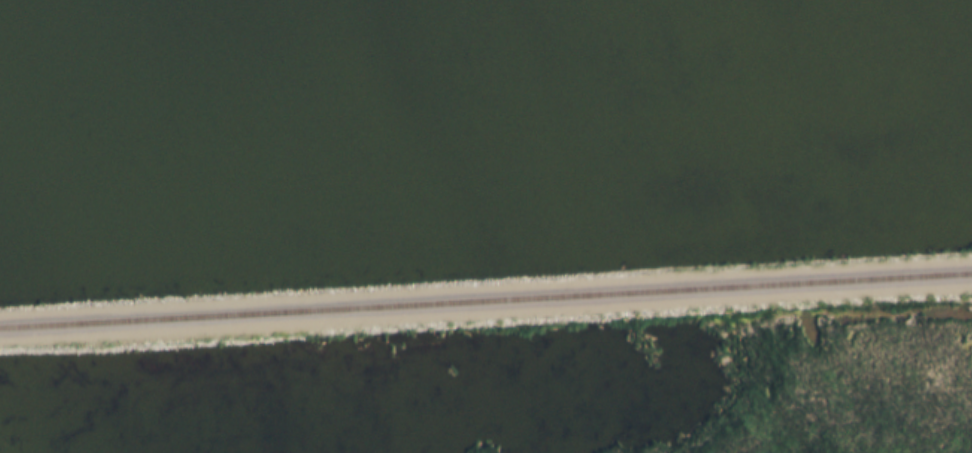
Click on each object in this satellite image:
railway: (486, 302)

